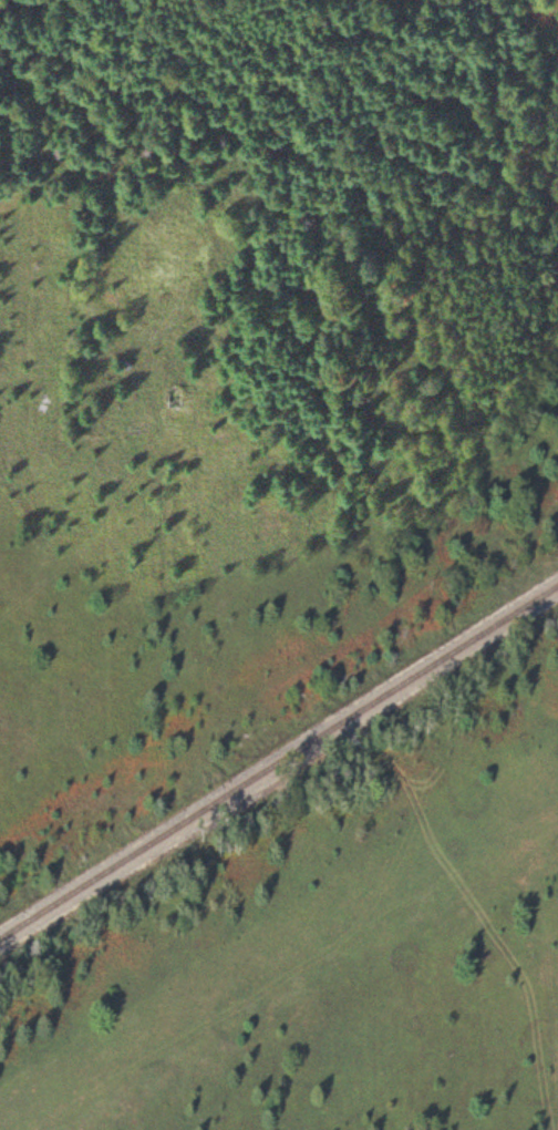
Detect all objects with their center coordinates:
railway: (279, 762)

